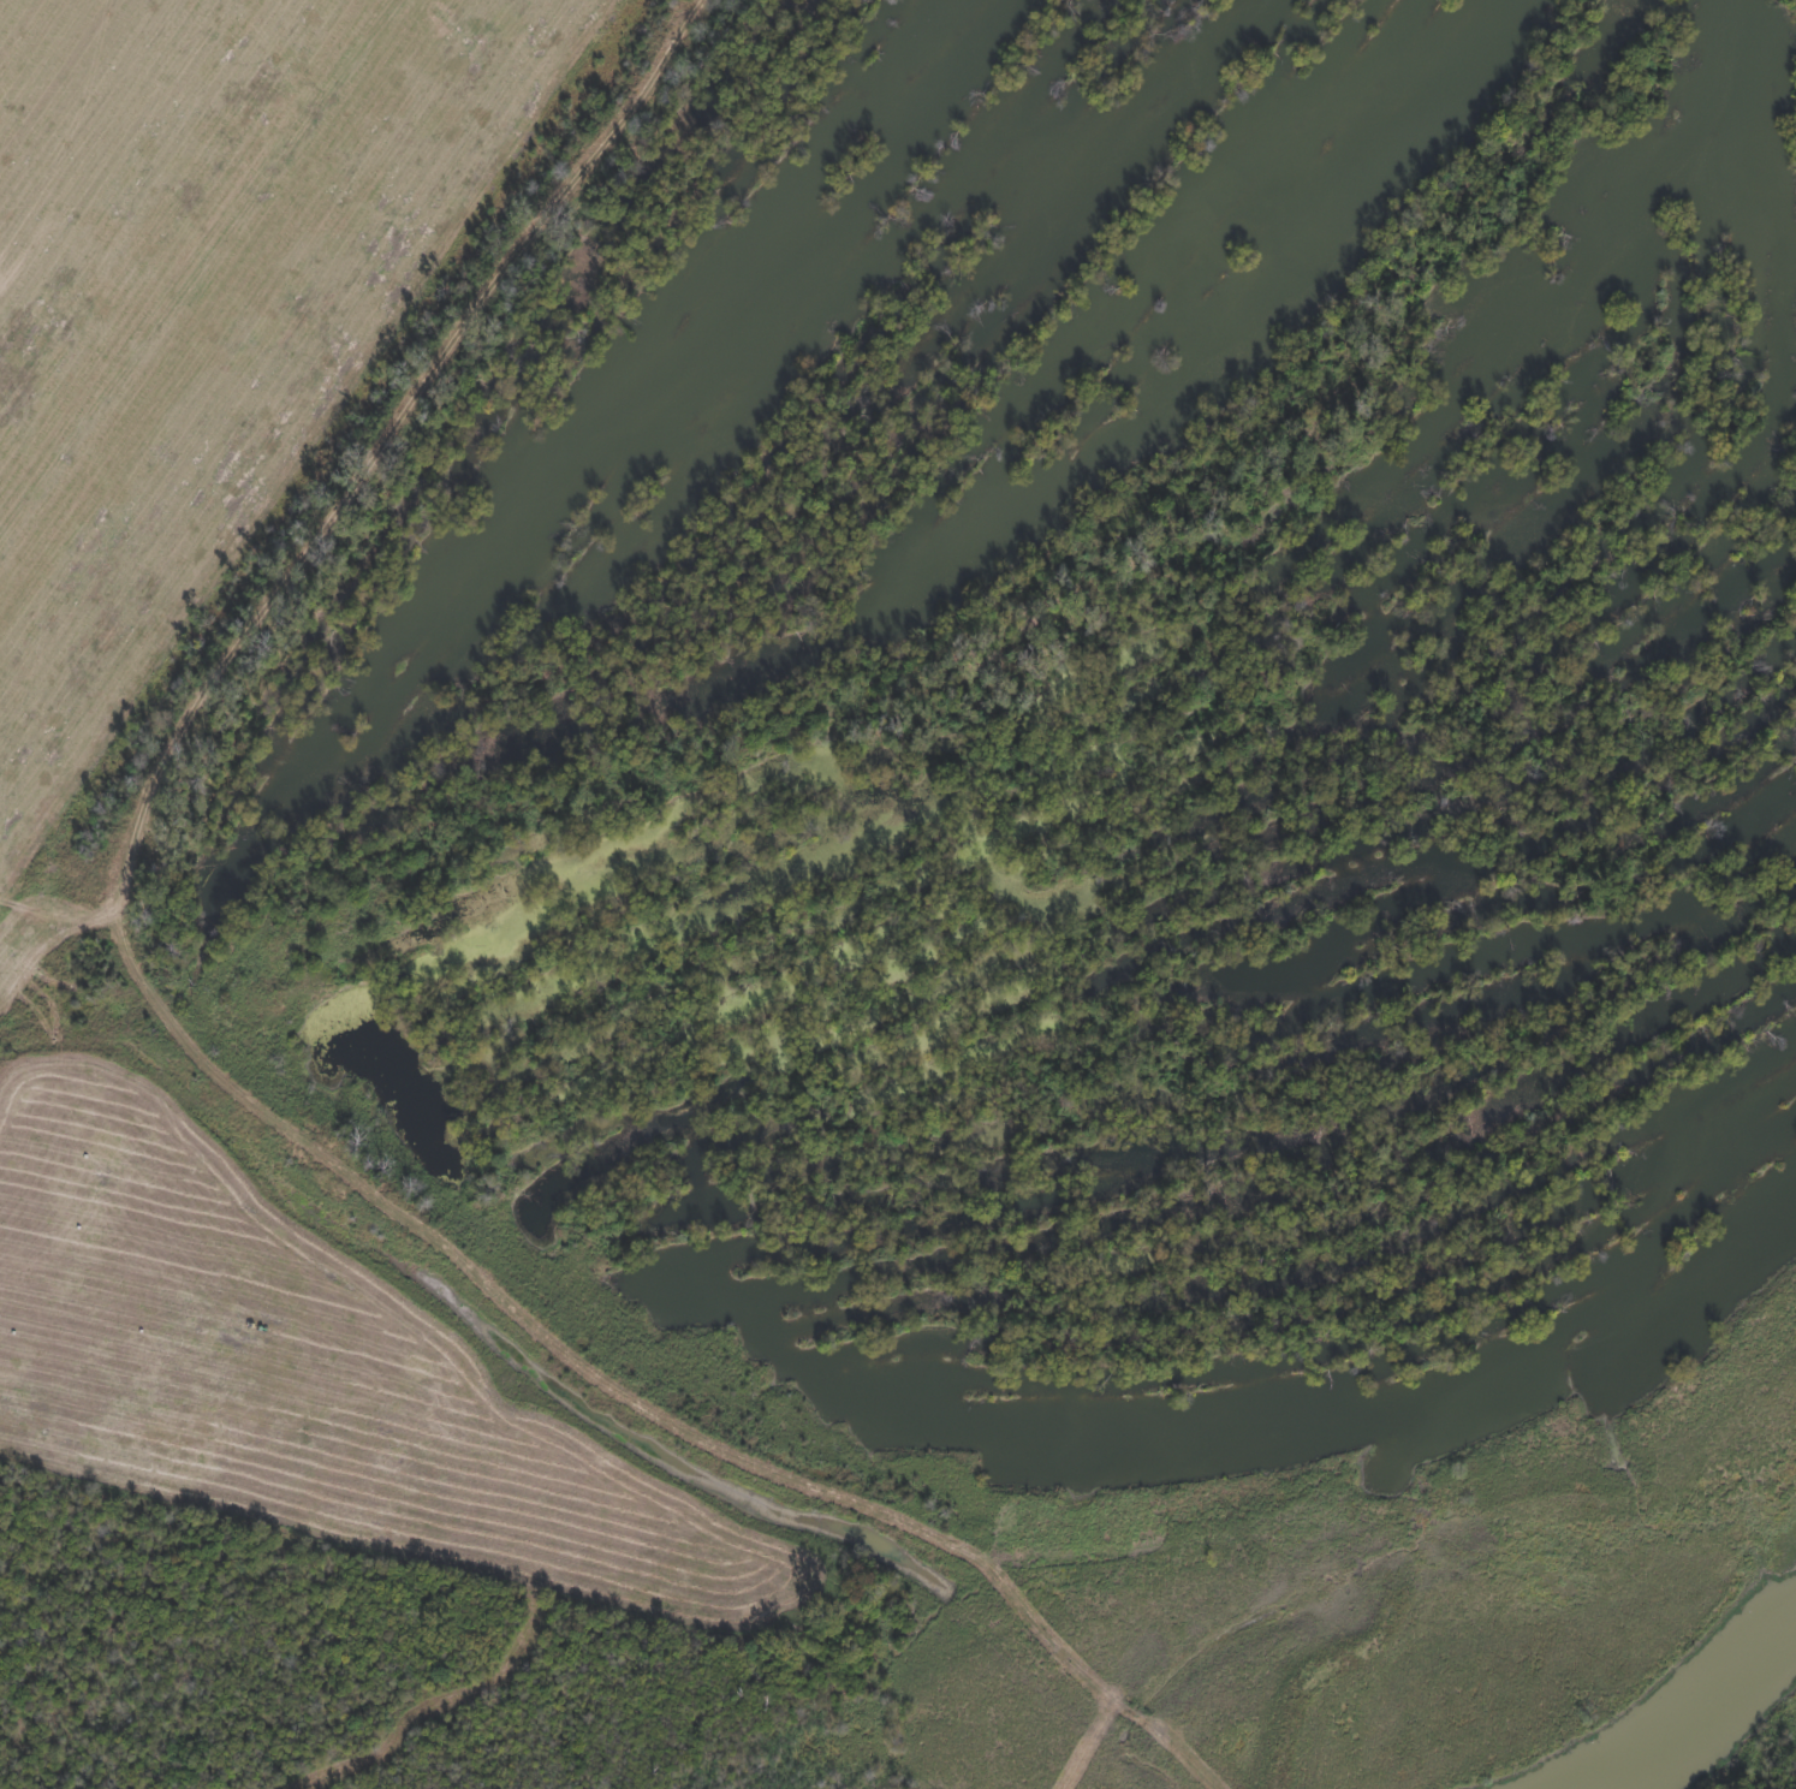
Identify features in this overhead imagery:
road: (1770, 1335)

